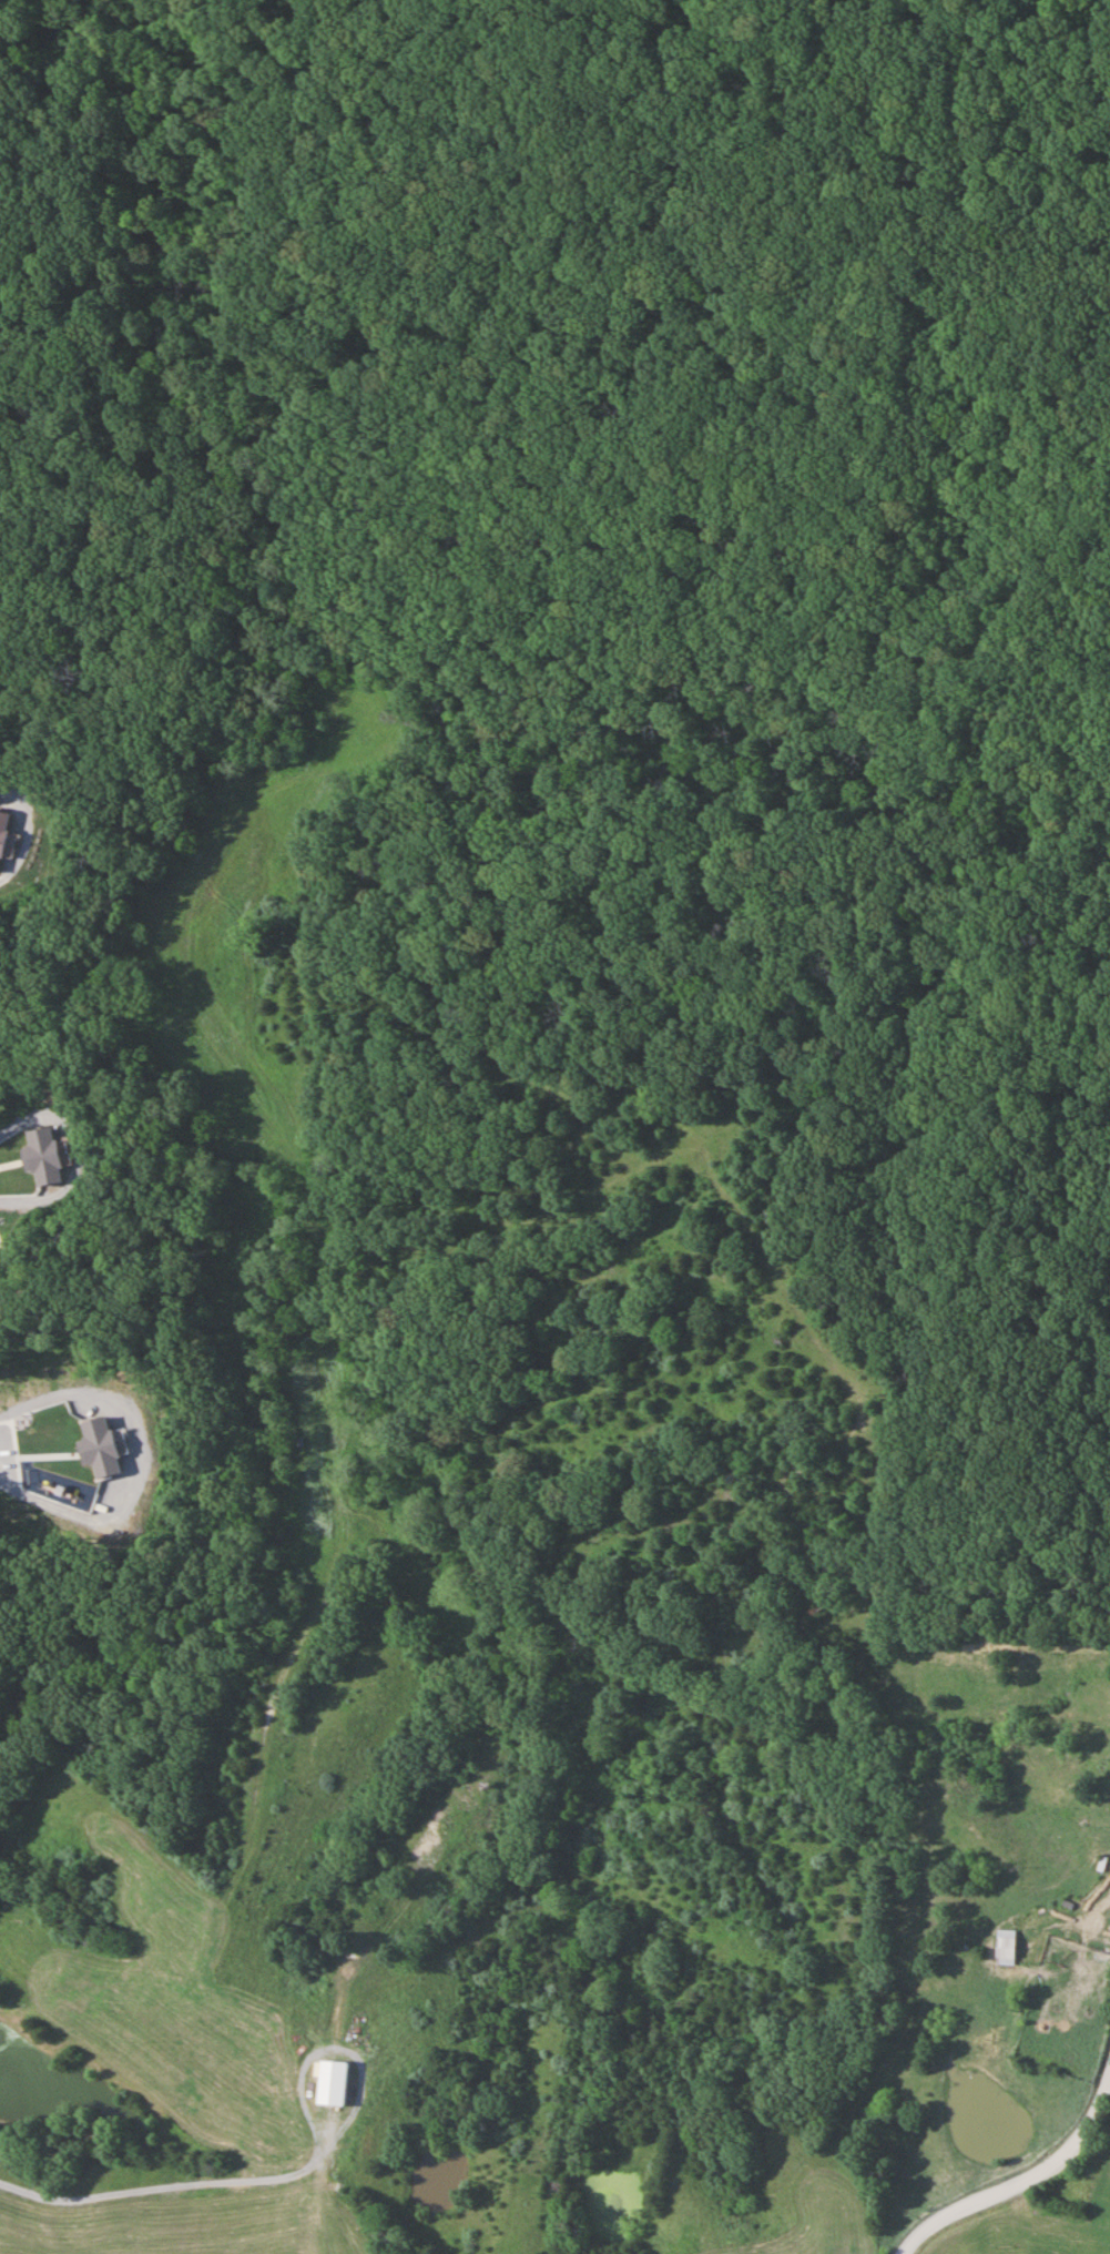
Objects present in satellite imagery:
building: (2, 826)
road: (24, 833)
road: (18, 1119)
building: (41, 1157)
building: (1005, 1948)
building: (329, 2082)
road: (1027, 2174)
road: (177, 2182)

